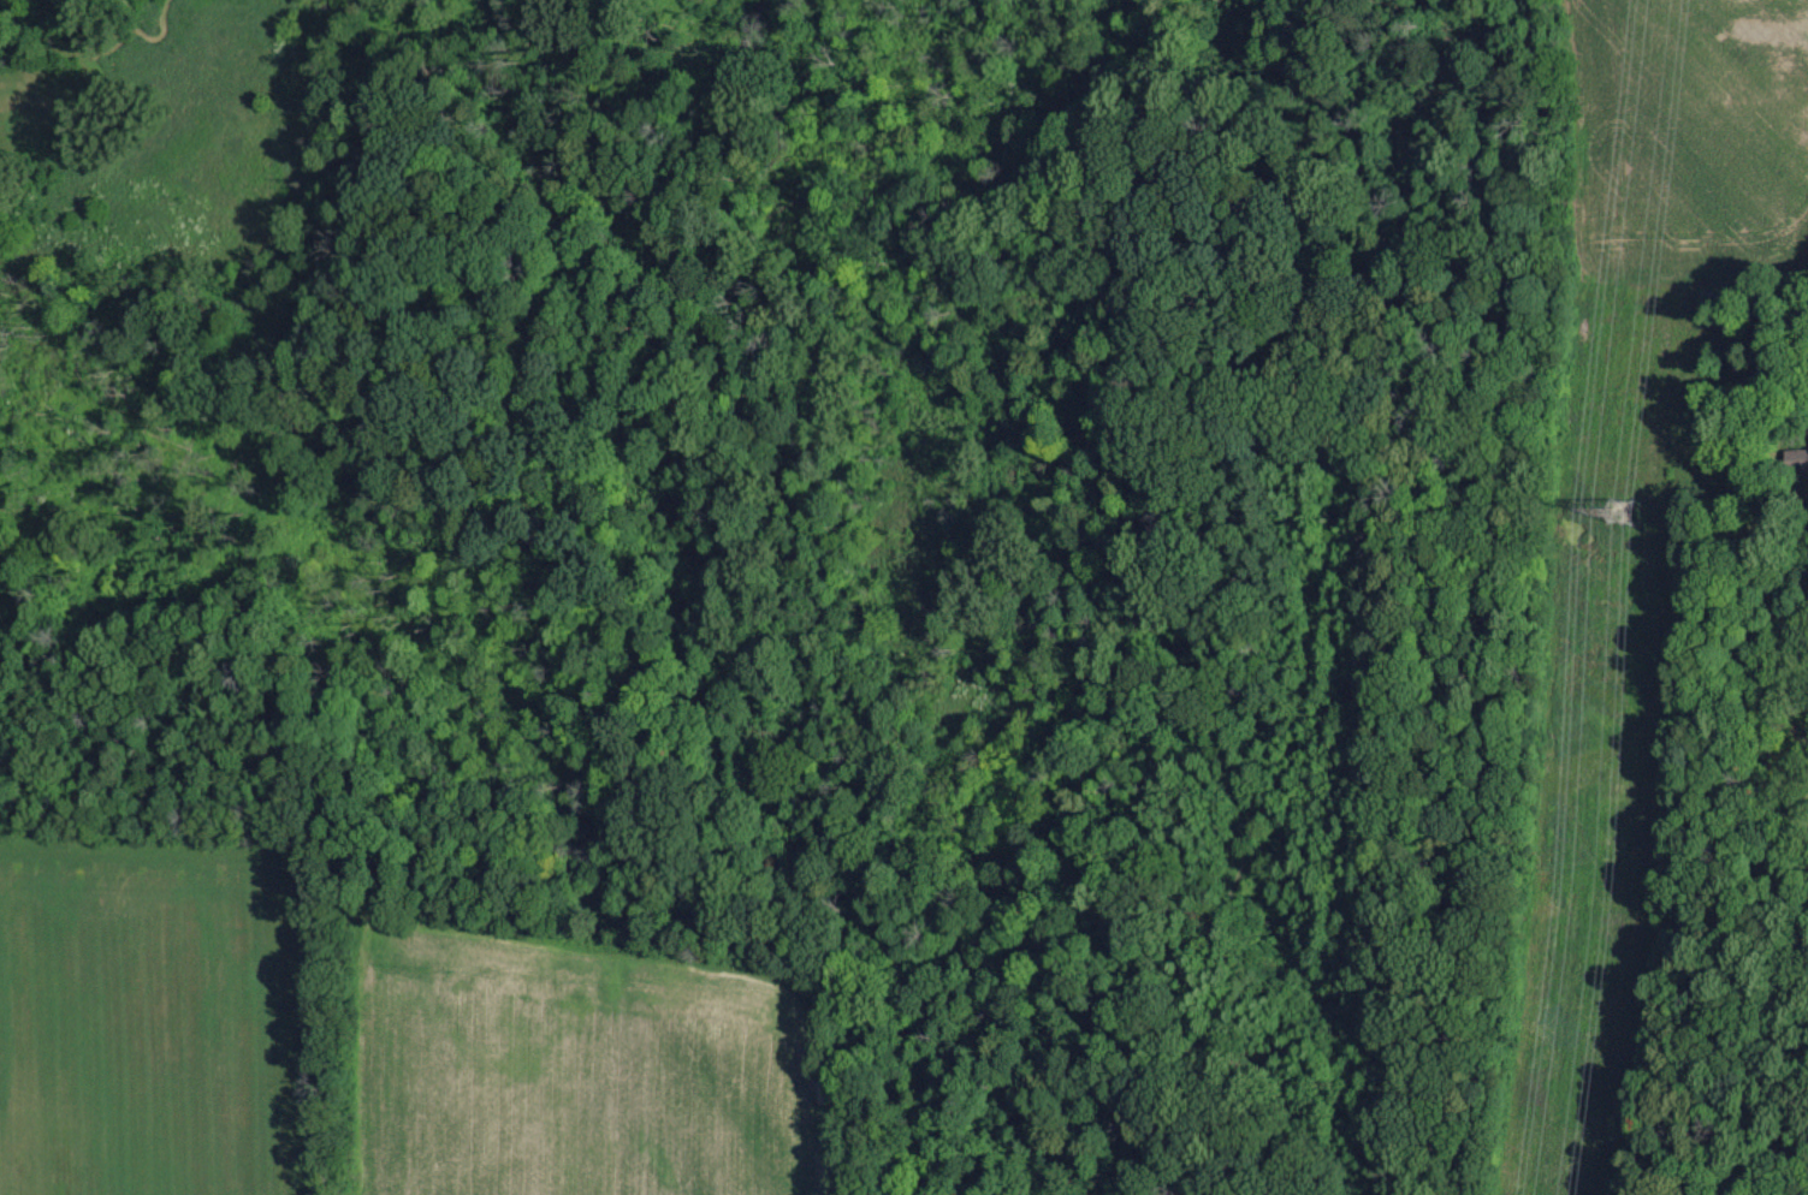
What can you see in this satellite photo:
power tower: (1626, 507)

